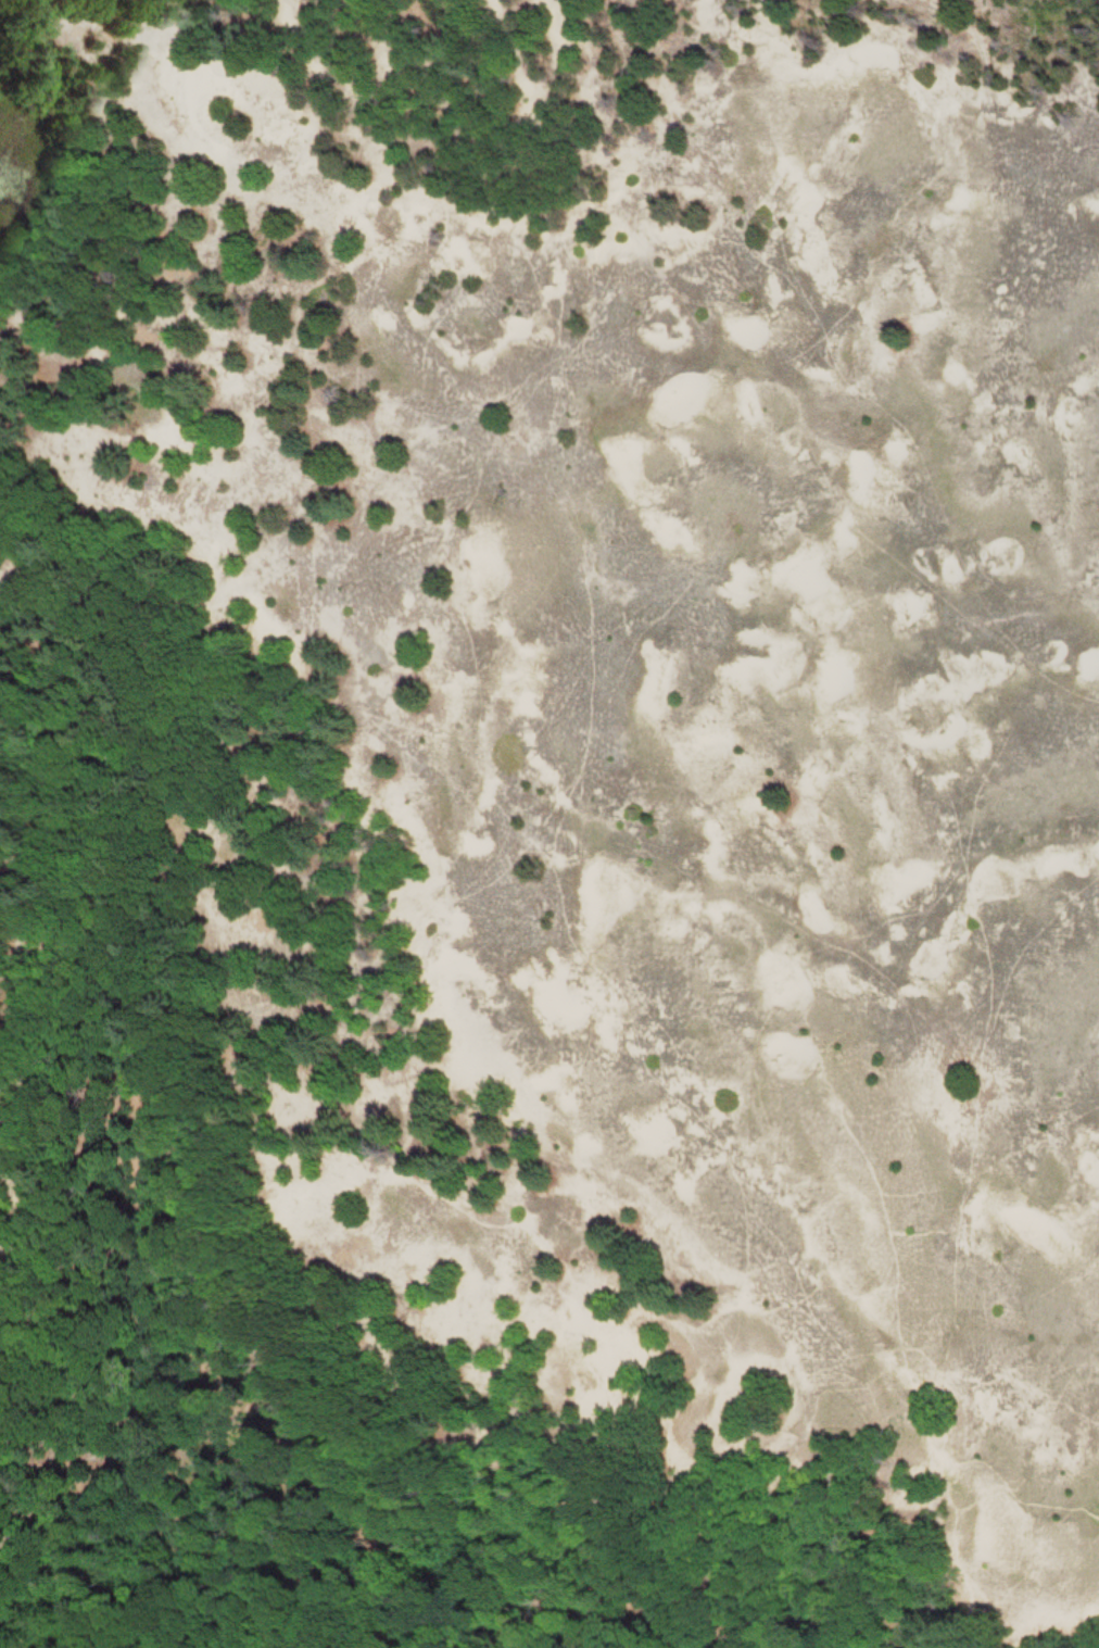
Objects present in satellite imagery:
park: (549, 823)
road: (153, 945)

